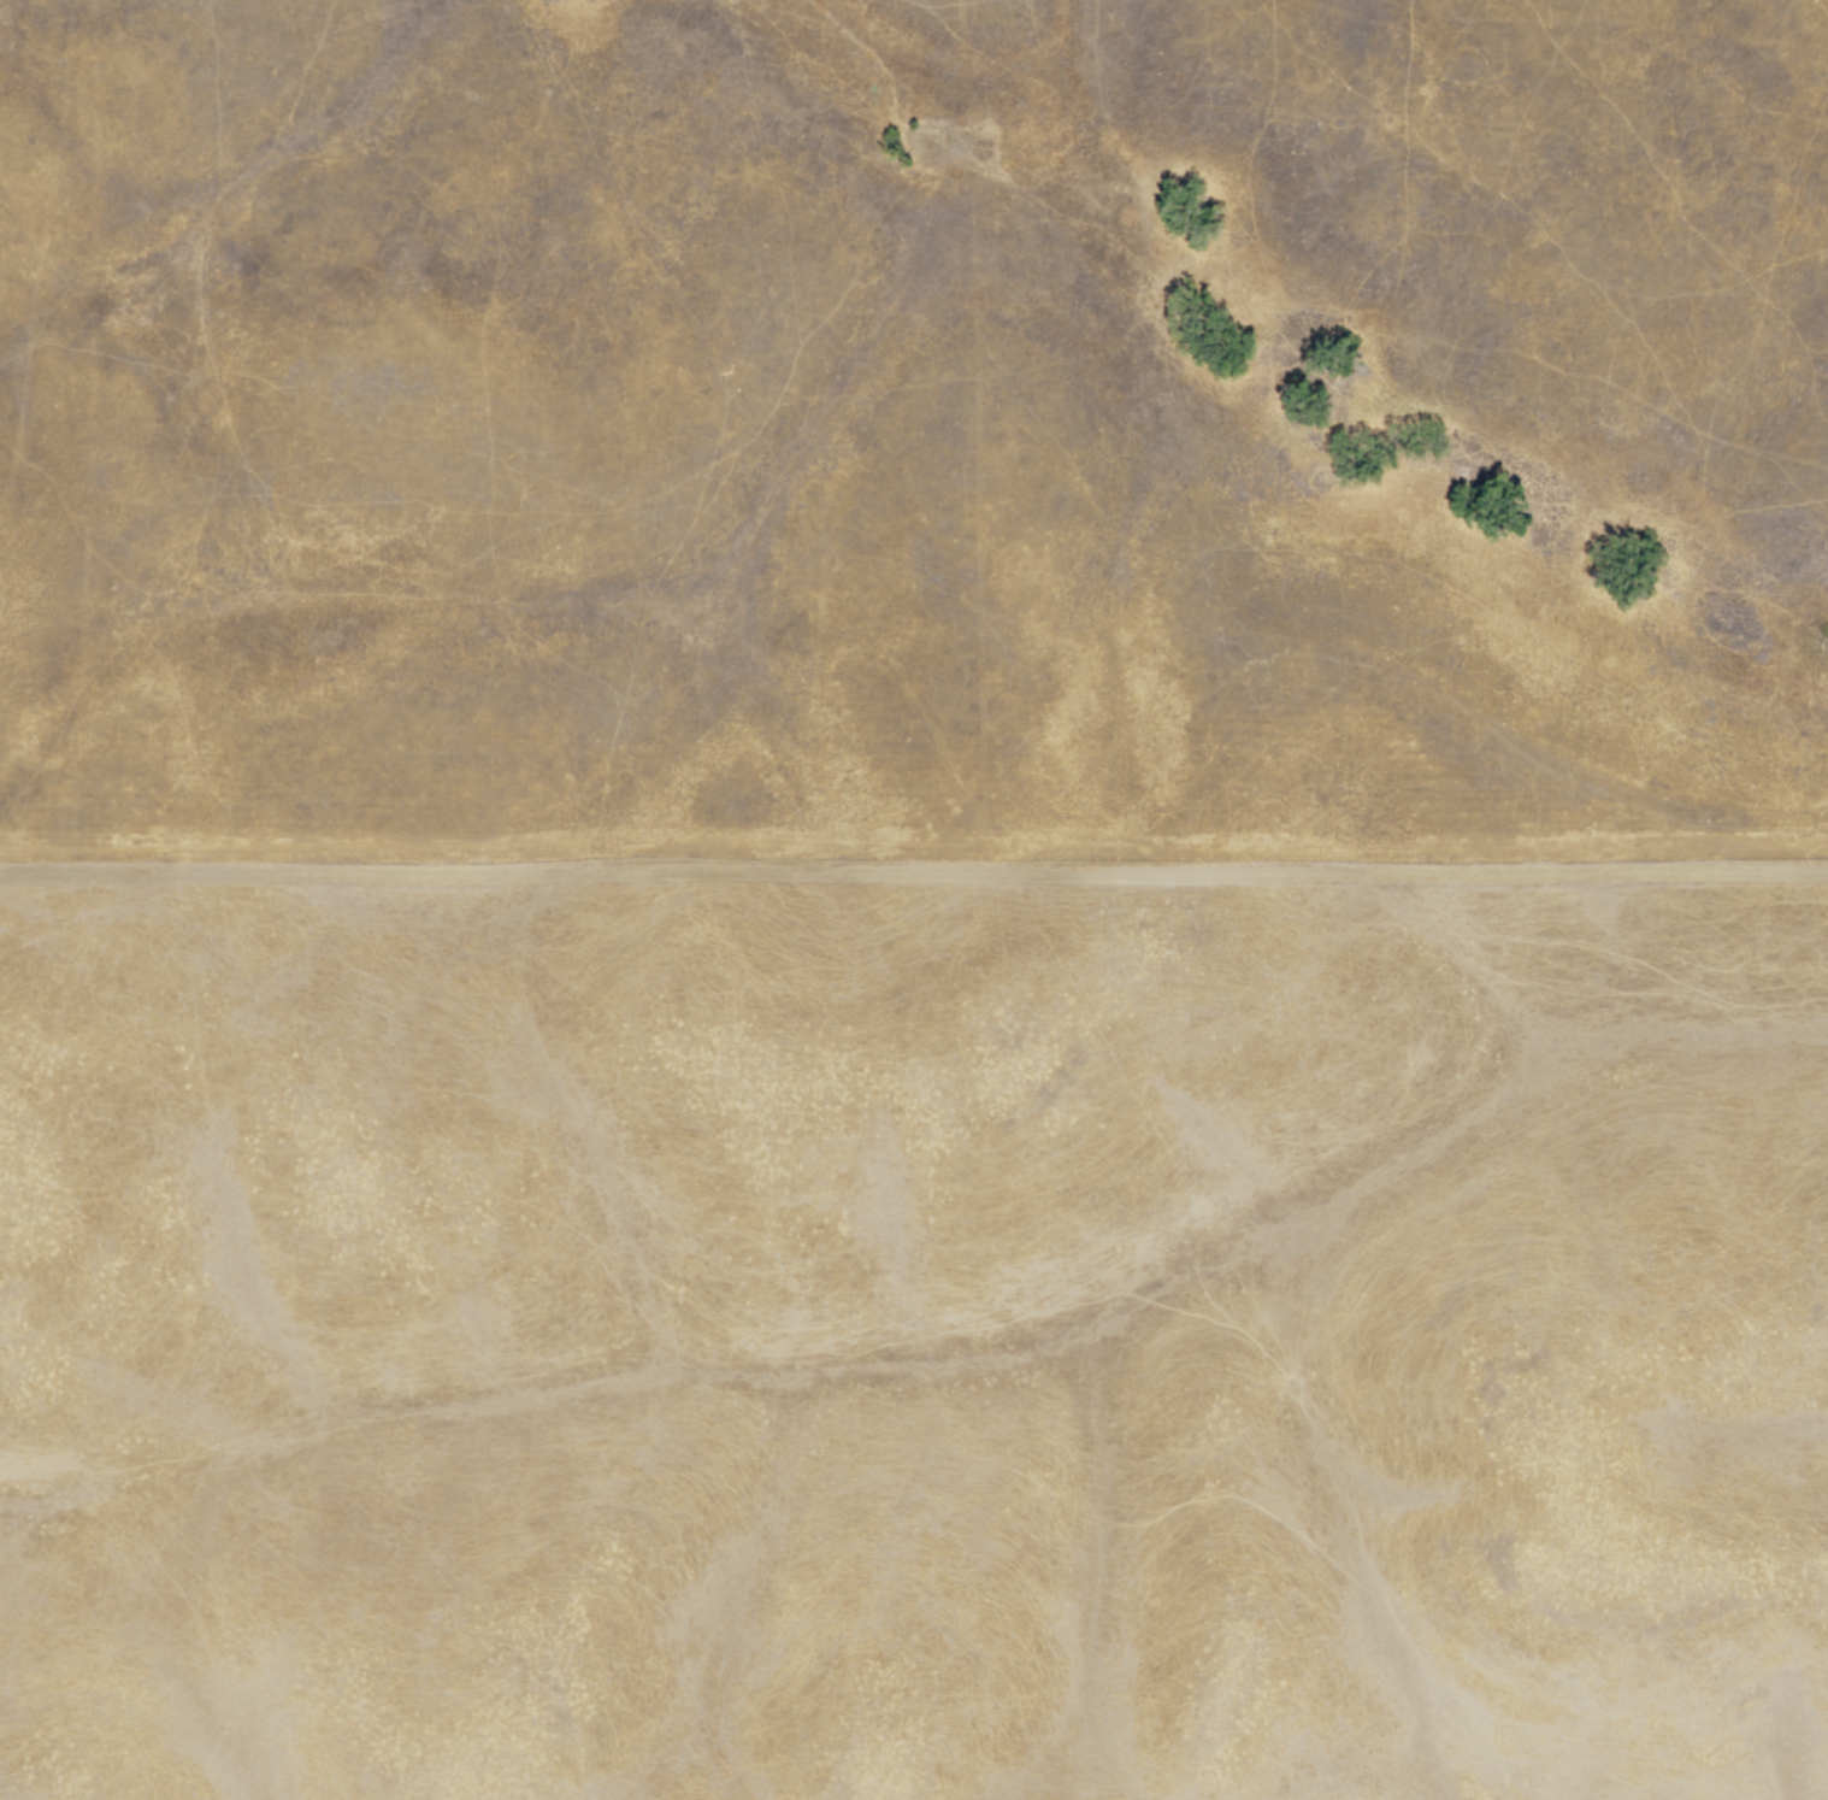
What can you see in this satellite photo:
road: (914, 872)

